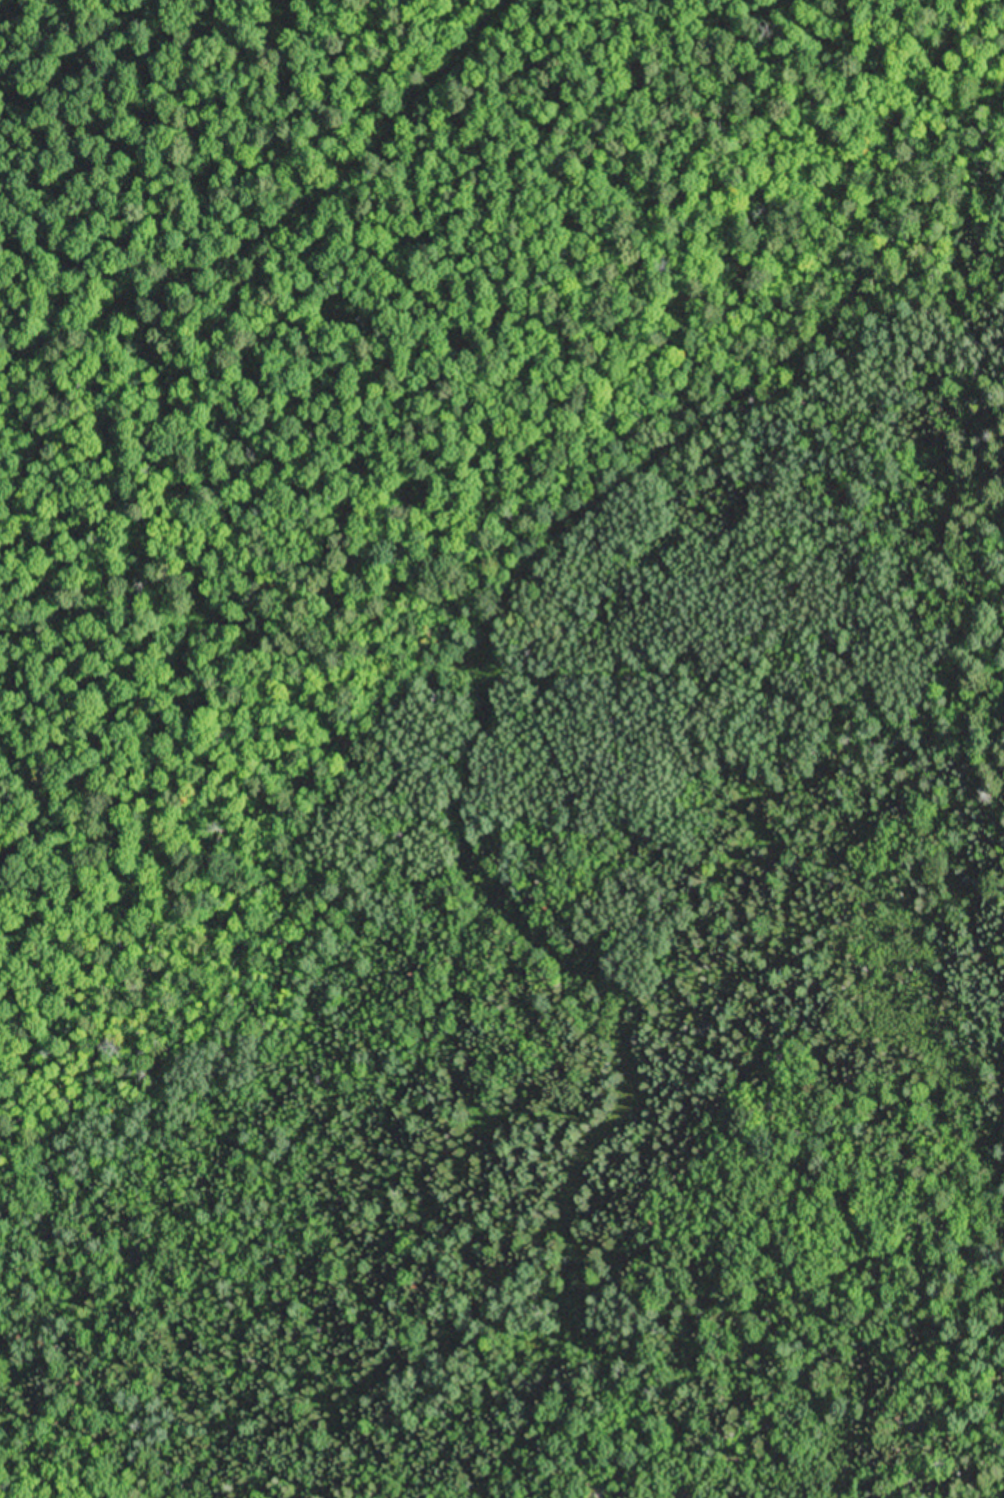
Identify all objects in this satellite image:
road: (260, 206)

